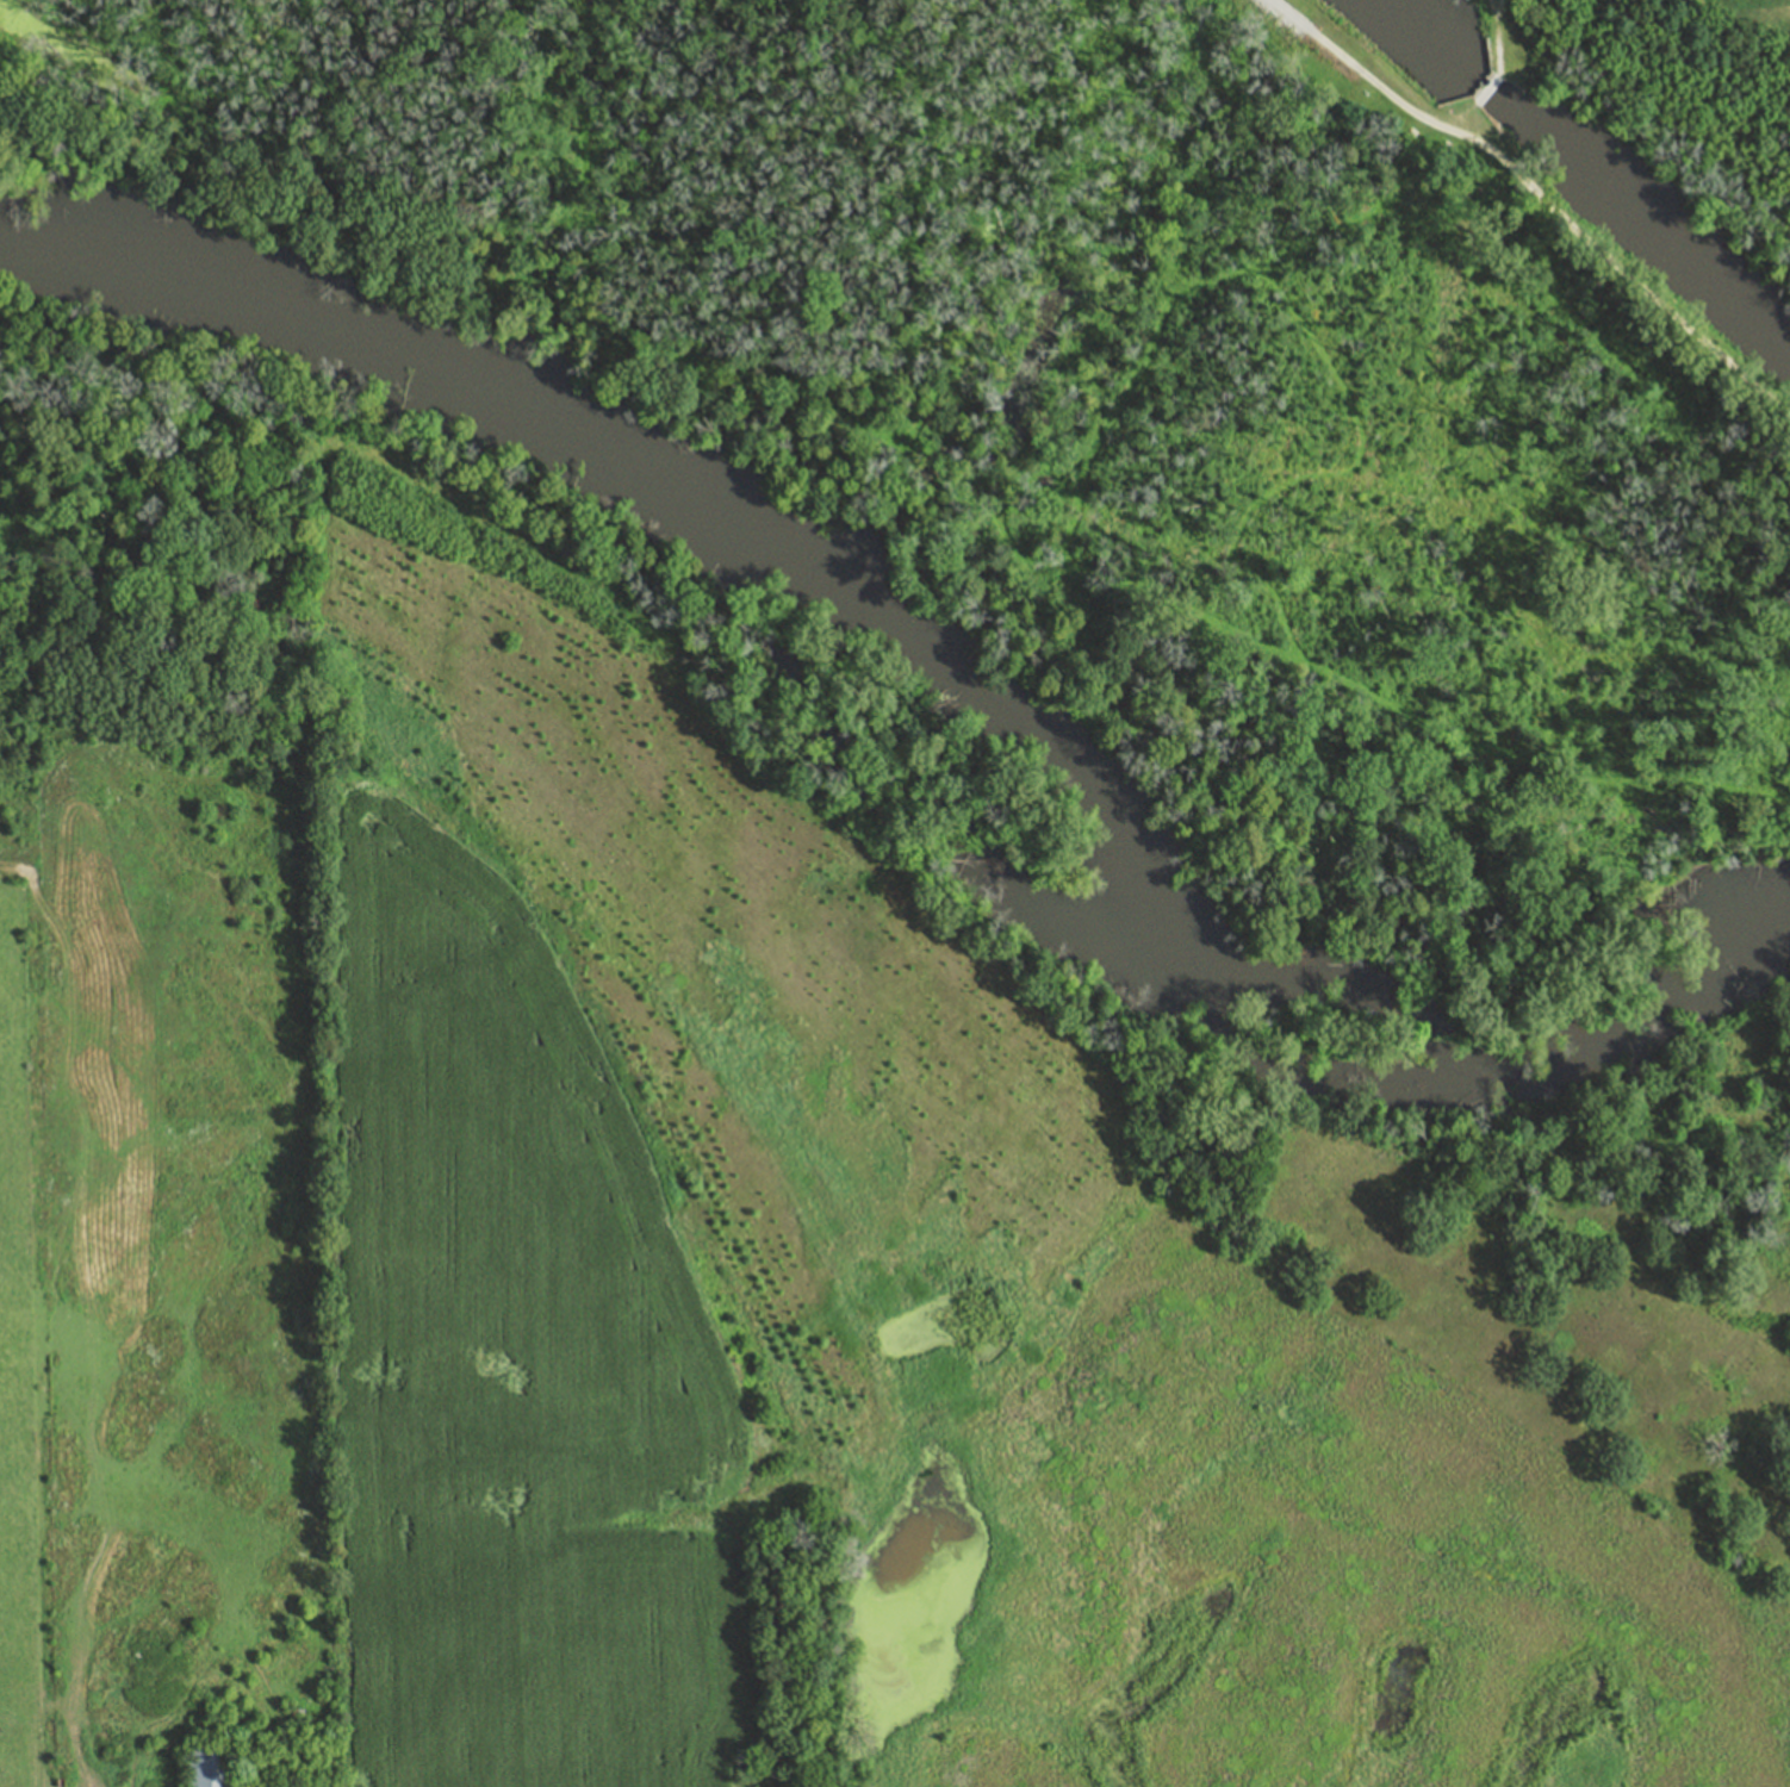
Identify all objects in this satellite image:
park: (1524, 49)
dam: (1485, 101)
road: (1540, 192)
river: (1634, 225)
river: (938, 680)
building: (205, 1766)

